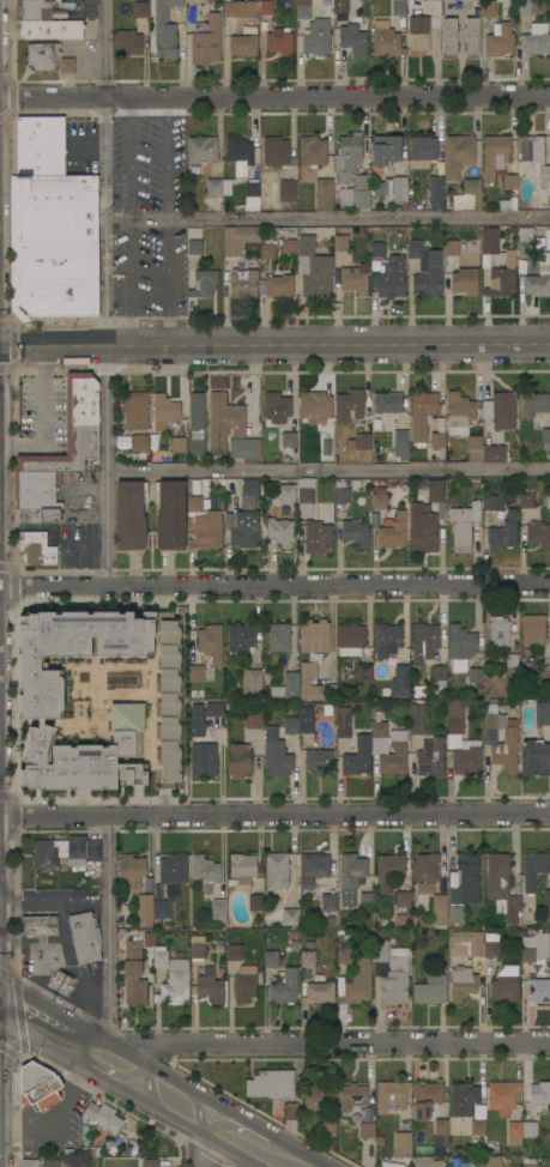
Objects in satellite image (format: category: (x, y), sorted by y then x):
building: (428, 0)
building: (32, 1)
building: (194, 1)
building: (340, 5)
building: (266, 7)
building: (398, 7)
building: (240, 8)
building: (488, 8)
building: (524, 8)
building: (141, 10)
building: (34, 11)
building: (303, 11)
building: (434, 24)
building: (49, 29)
building: (164, 30)
building: (418, 35)
building: (449, 36)
building: (471, 36)
building: (316, 37)
building: (205, 40)
building: (352, 40)
building: (386, 40)
building: (500, 40)
building: (536, 40)
building: (127, 42)
building: (279, 42)
building: (243, 44)
building: (43, 56)
building: (67, 66)
road: (274, 95)
building: (41, 145)
building: (423, 147)
building: (386, 149)
building: (312, 151)
building: (199, 152)
building: (274, 152)
building: (458, 153)
building: (495, 155)
building: (240, 156)
building: (347, 156)
building: (533, 158)
road: (105, 171)
building: (510, 183)
building: (218, 188)
building: (399, 188)
building: (284, 189)
building: (362, 191)
building: (471, 192)
building: (324, 194)
building: (252, 196)
building: (345, 196)
building: (509, 204)
building: (58, 208)
road: (327, 217)
road: (131, 219)
road: (167, 220)
building: (525, 235)
building: (237, 238)
building: (489, 240)
building: (340, 242)
building: (193, 243)
building: (288, 246)
building: (452, 248)
building: (376, 249)
building: (525, 249)
building: (267, 252)
building: (58, 261)
building: (315, 264)
building: (425, 270)
building: (502, 274)
building: (392, 278)
building: (355, 279)
building: (465, 282)
building: (204, 283)
building: (243, 283)
building: (538, 283)
building: (279, 285)
building: (56, 297)
road: (327, 344)
road: (52, 345)
building: (388, 401)
parking lot: (40, 403)
building: (533, 404)
building: (349, 405)
building: (315, 406)
building: (277, 407)
building: (165, 409)
building: (500, 410)
building: (135, 411)
building: (422, 413)
building: (459, 413)
road: (42, 417)
building: (224, 421)
building: (195, 424)
building: (72, 429)
building: (545, 439)
building: (288, 440)
building: (437, 440)
building: (363, 441)
building: (139, 443)
building: (400, 443)
building: (179, 445)
building: (475, 448)
building: (161, 449)
building: (244, 449)
building: (494, 454)
road: (104, 465)
road: (327, 470)
building: (249, 488)
building: (36, 489)
building: (340, 491)
building: (285, 494)
building: (306, 497)
building: (379, 501)
building: (526, 501)
building: (194, 503)
building: (489, 503)
building: (37, 515)
building: (131, 515)
building: (170, 515)
building: (425, 520)
building: (464, 525)
building: (246, 530)
building: (206, 531)
building: (279, 531)
building: (355, 532)
building: (393, 532)
building: (503, 532)
building: (538, 533)
building: (318, 537)
building: (36, 549)
road: (274, 585)
building: (498, 631)
building: (533, 631)
building: (242, 636)
building: (278, 636)
building: (314, 636)
building: (350, 639)
building: (387, 640)
building: (211, 642)
building: (423, 642)
building: (460, 642)
building: (363, 672)
building: (199, 673)
building: (439, 675)
building: (476, 677)
building: (304, 682)
building: (400, 682)
building: (544, 682)
building: (252, 683)
building: (286, 685)
building: (99, 699)
building: (214, 709)
building: (542, 713)
building: (306, 718)
building: (253, 719)
building: (417, 719)
building: (455, 720)
building: (197, 721)
building: (343, 721)
building: (494, 721)
building: (291, 726)
building: (398, 745)
building: (506, 751)
building: (276, 754)
building: (430, 756)
building: (357, 757)
building: (467, 757)
building: (534, 758)
building: (203, 761)
building: (238, 761)
building: (319, 761)
road: (274, 816)
building: (66, 851)
building: (314, 865)
building: (242, 867)
building: (425, 867)
building: (533, 869)
building: (132, 870)
building: (388, 870)
building: (205, 871)
building: (173, 872)
building: (278, 872)
building: (351, 877)
building: (469, 877)
building: (501, 887)
building: (422, 888)
building: (403, 891)
building: (546, 896)
building: (365, 900)
building: (256, 902)
building: (328, 902)
road: (31, 903)
road: (85, 903)
building: (219, 908)
building: (439, 908)
building: (152, 909)
building: (455, 914)
building: (290, 917)
building: (38, 925)
road: (108, 930)
building: (85, 937)
road: (50, 942)
building: (470, 942)
building: (534, 948)
building: (491, 949)
building: (197, 950)
building: (381, 951)
building: (235, 953)
building: (344, 956)
building: (159, 957)
building: (307, 957)
building: (271, 959)
building: (133, 973)
building: (393, 978)
road: (37, 982)
building: (61, 982)
building: (357, 982)
building: (175, 984)
building: (246, 984)
building: (463, 984)
road: (97, 985)
building: (506, 985)
building: (210, 986)
building: (284, 988)
road: (85, 990)
building: (429, 990)
building: (539, 990)
building: (320, 992)
road: (0, 997)
road: (47, 1034)
road: (319, 1044)
building: (271, 1083)
building: (42, 1090)
building: (539, 1093)
building: (352, 1095)
building: (391, 1095)
building: (502, 1096)
building: (316, 1098)
building: (427, 1099)
building: (464, 1100)
building: (290, 1111)
road: (187, 1114)
building: (102, 1115)
building: (328, 1123)
building: (441, 1126)
building: (477, 1127)
building: (528, 1129)
building: (367, 1130)
building: (514, 1133)
building: (86, 1142)
building: (403, 1144)
road: (201, 1145)
building: (425, 1161)
building: (477, 1161)
building: (29, 1162)
building: (49, 1162)
building: (149, 1162)
building: (494, 1163)
building: (530, 1166)

